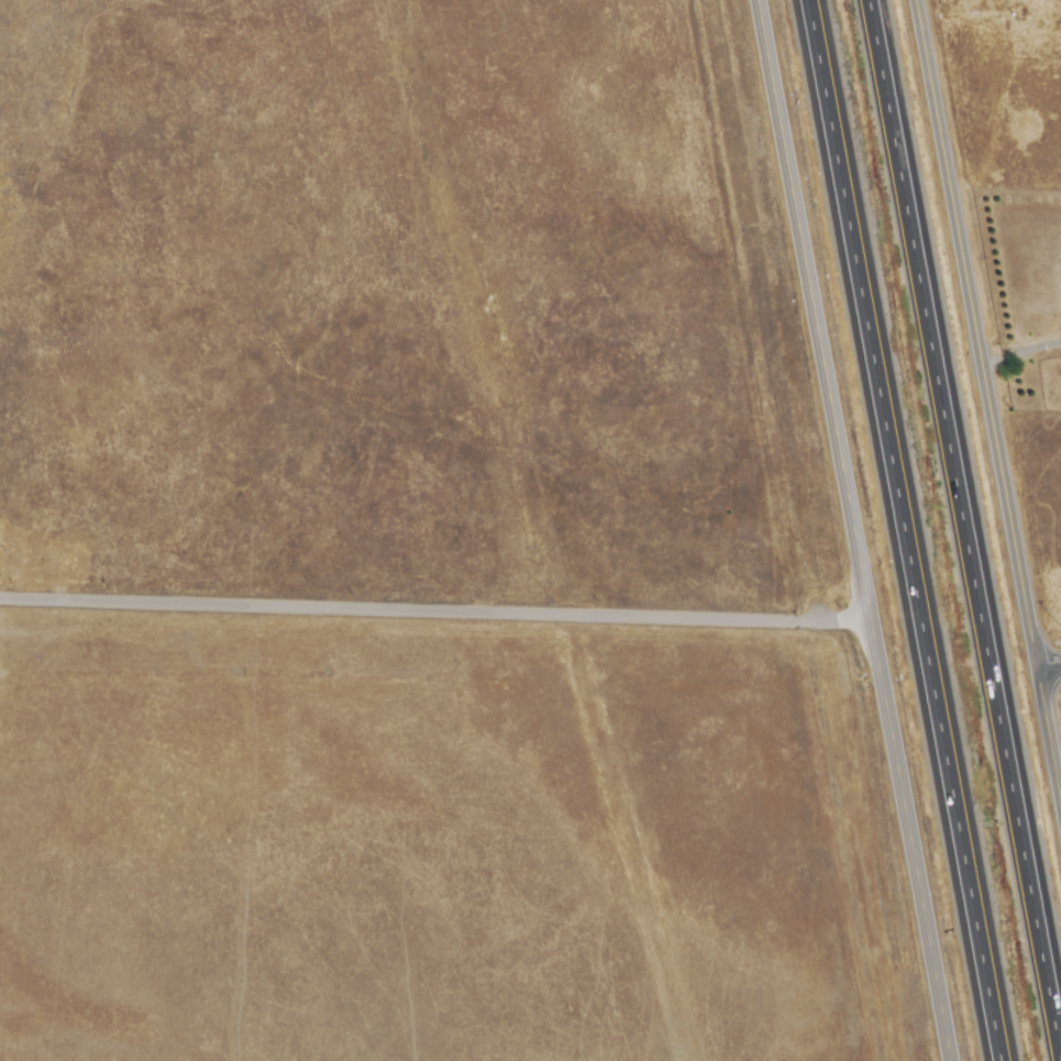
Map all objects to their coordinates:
road: (1019, 356)
road: (987, 417)
railway: (802, 530)
road: (849, 530)
road: (900, 530)
road: (961, 530)
road: (431, 612)
road: (1048, 667)

